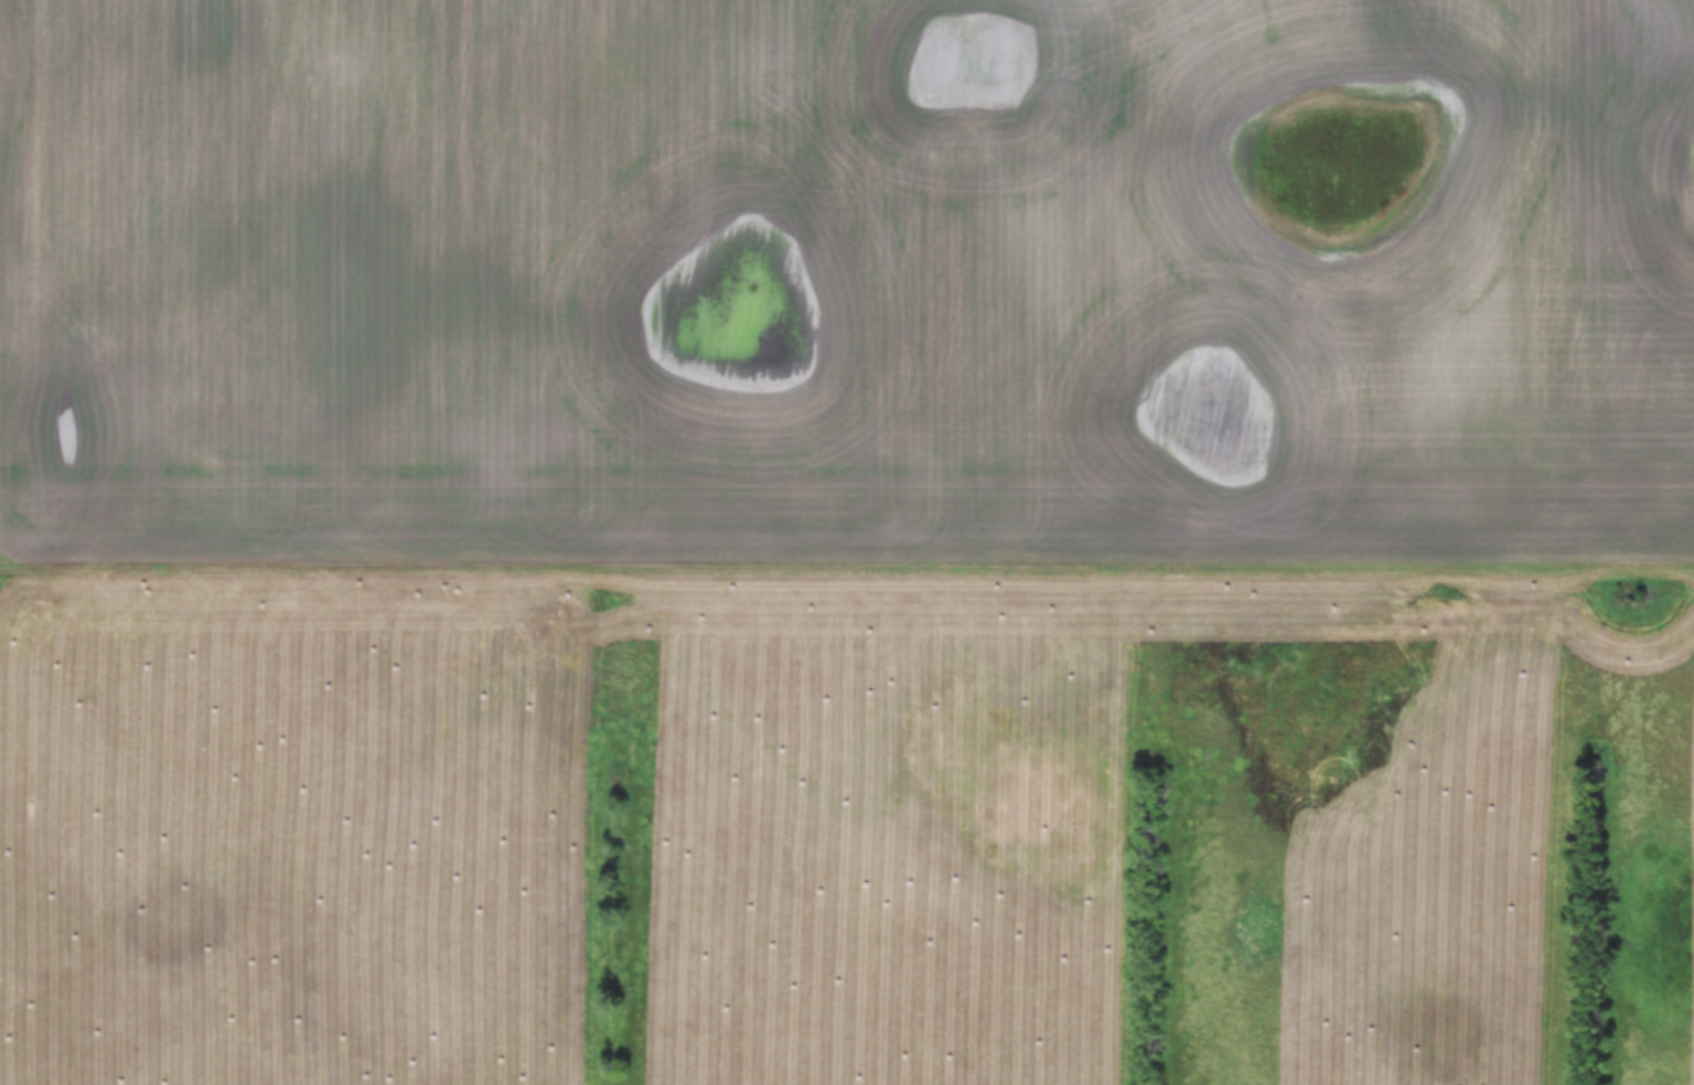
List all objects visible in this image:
road: (847, 574)

